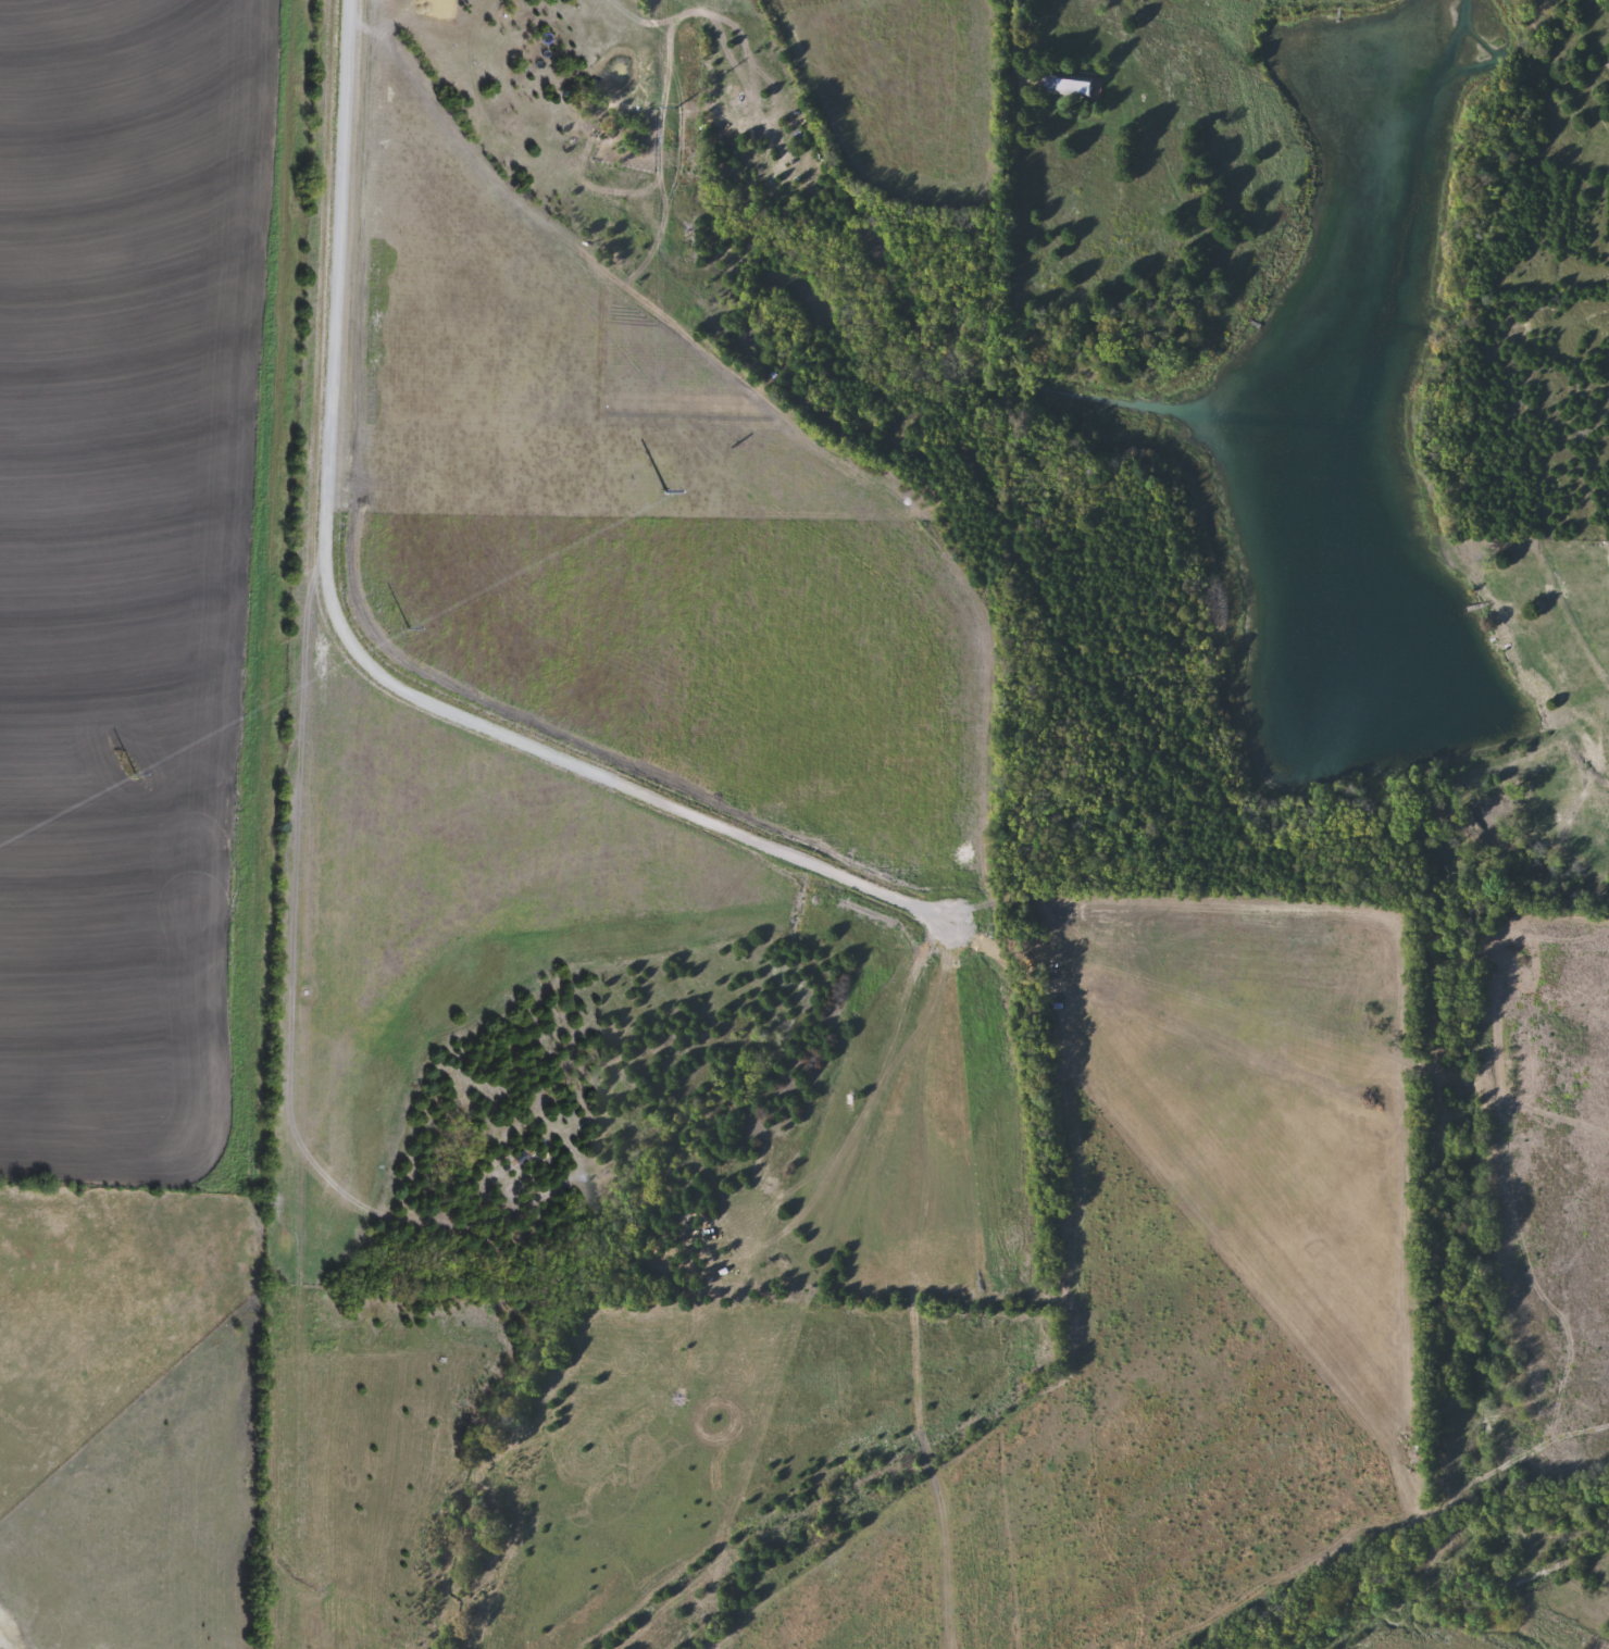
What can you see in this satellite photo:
road: (1016, 41)
building: (1056, 84)
power tower: (653, 110)
power tower: (649, 487)
power tower: (394, 619)
road: (360, 654)
power tower: (120, 763)

